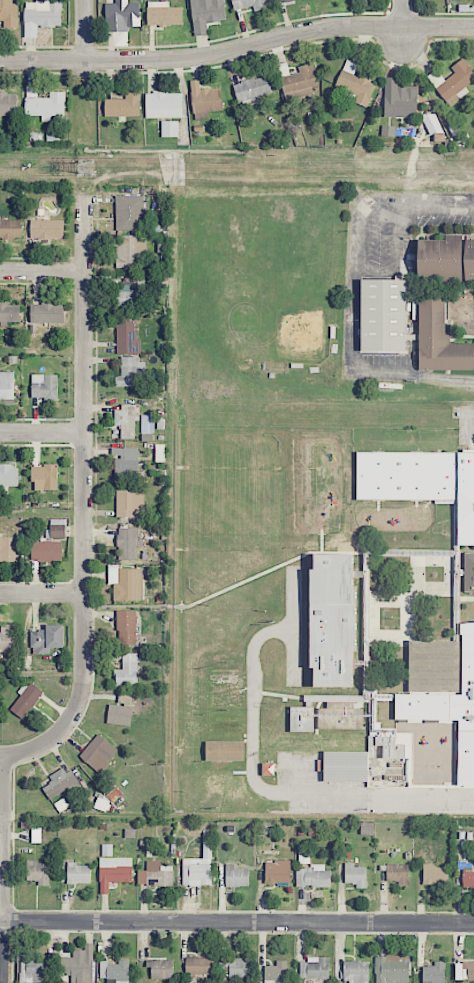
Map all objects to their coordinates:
building: (280, 0)
building: (250, 4)
building: (9, 13)
building: (164, 14)
building: (206, 14)
building: (122, 15)
building: (41, 16)
road: (403, 24)
road: (83, 30)
road: (237, 47)
building: (452, 79)
building: (299, 82)
building: (355, 84)
building: (253, 89)
building: (205, 98)
building: (44, 103)
building: (401, 103)
building: (8, 104)
building: (123, 105)
building: (163, 105)
building: (431, 123)
building: (170, 129)
power tower: (86, 167)
building: (129, 212)
building: (10, 229)
building: (47, 229)
building: (129, 251)
building: (440, 258)
building: (469, 262)
road: (42, 271)
road: (354, 298)
building: (127, 299)
building: (9, 313)
building: (47, 313)
building: (383, 314)
building: (127, 338)
building: (439, 339)
building: (131, 371)
building: (6, 386)
building: (44, 386)
building: (127, 420)
building: (147, 423)
road: (42, 433)
building: (125, 462)
building: (9, 475)
building: (45, 477)
building: (421, 481)
road: (85, 495)
building: (130, 503)
building: (57, 531)
building: (128, 543)
building: (8, 548)
building: (46, 551)
building: (468, 572)
building: (126, 582)
road: (42, 592)
building: (332, 620)
building: (126, 627)
building: (7, 636)
building: (47, 639)
building: (127, 671)
building: (224, 678)
building: (443, 691)
building: (225, 699)
building: (25, 700)
building: (120, 711)
building: (326, 714)
building: (224, 725)
building: (224, 750)
building: (98, 753)
road: (1, 755)
building: (345, 766)
building: (268, 769)
building: (58, 782)
building: (36, 835)
building: (107, 850)
building: (199, 866)
road: (2, 868)
building: (277, 871)
building: (37, 872)
building: (114, 872)
building: (78, 873)
building: (398, 873)
building: (158, 874)
building: (435, 874)
building: (355, 875)
building: (467, 875)
building: (236, 876)
building: (312, 876)
road: (237, 921)
building: (79, 965)
building: (198, 966)
building: (239, 967)
building: (161, 968)
building: (314, 968)
building: (392, 969)
building: (464, 970)
building: (35, 971)
building: (115, 971)
building: (356, 971)
building: (276, 972)
building: (434, 973)

